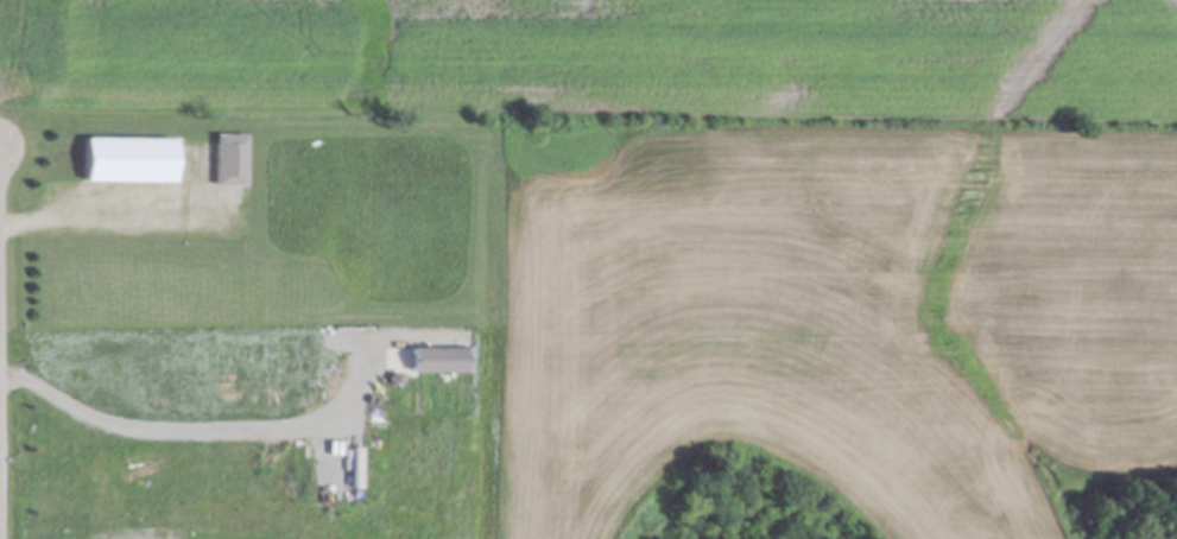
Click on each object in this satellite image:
building: (131, 152)
building: (232, 153)
stadium: (828, 331)
building: (424, 353)
road: (202, 431)

